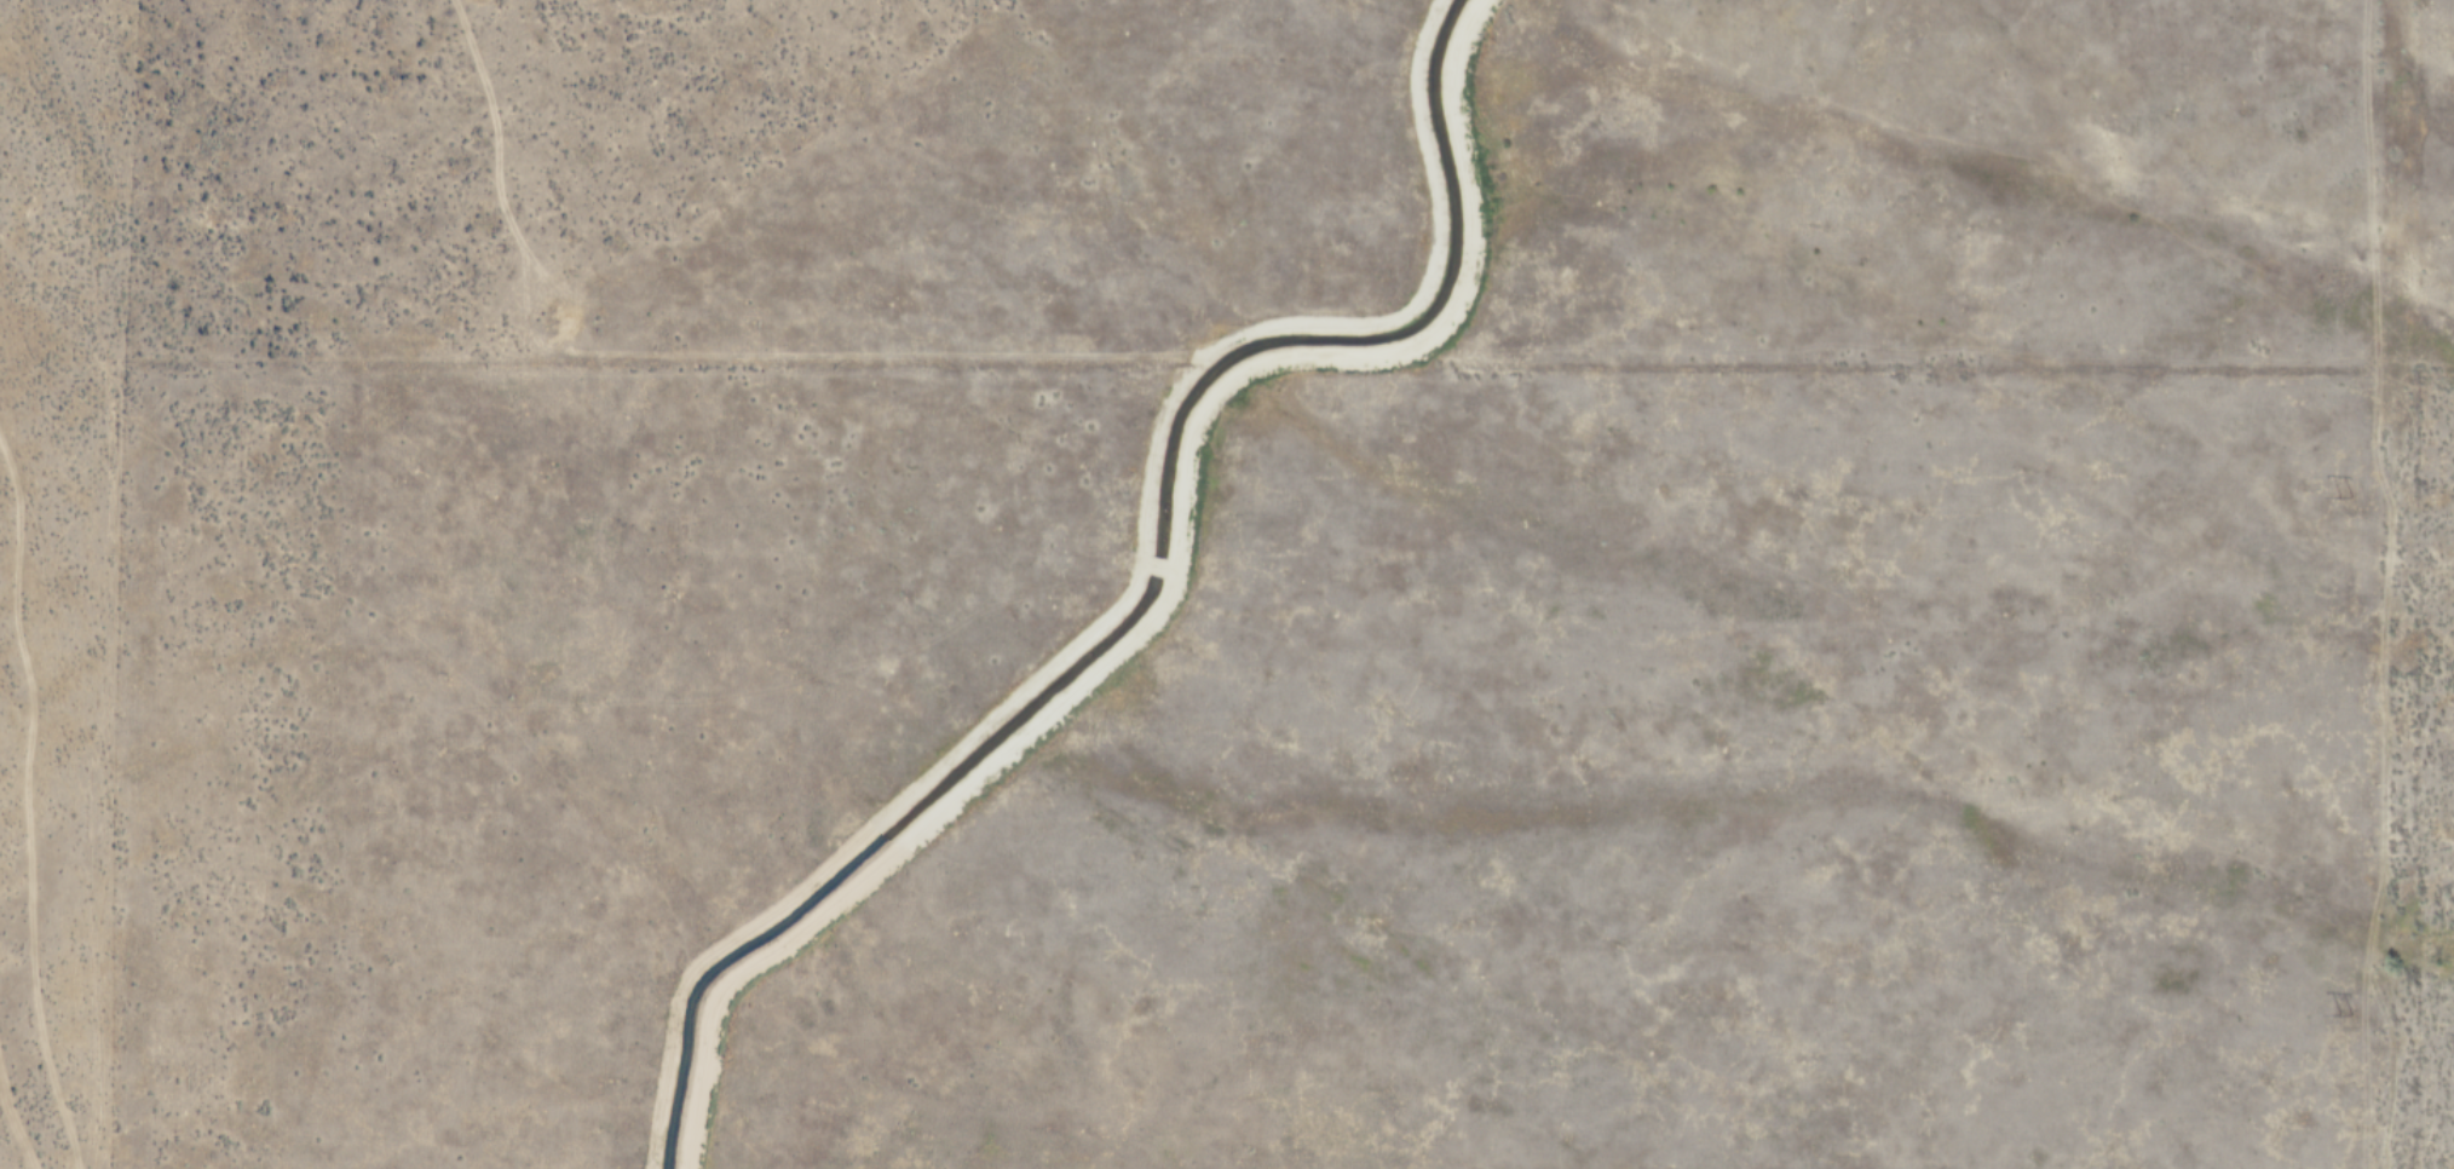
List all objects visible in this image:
power tower: (2343, 494)
power tower: (2343, 1018)

